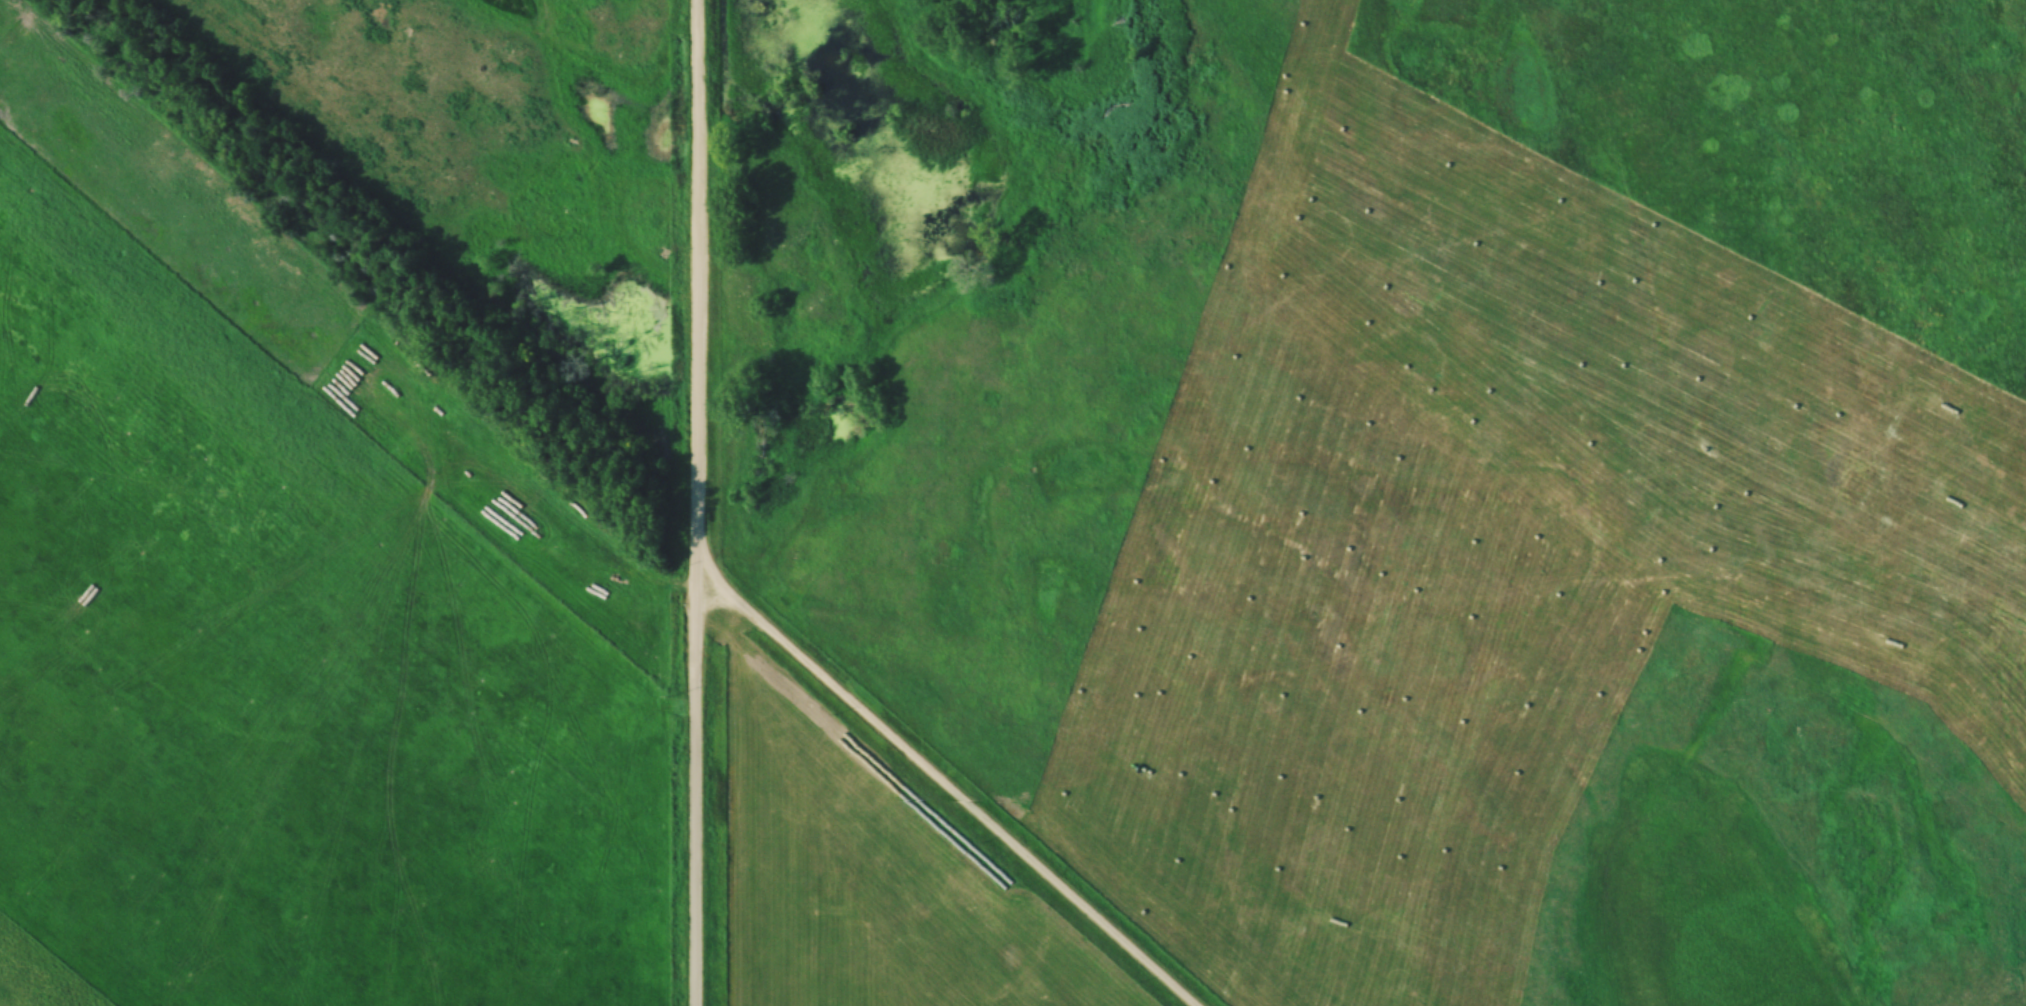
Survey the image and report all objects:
road: (693, 503)
road: (939, 792)

